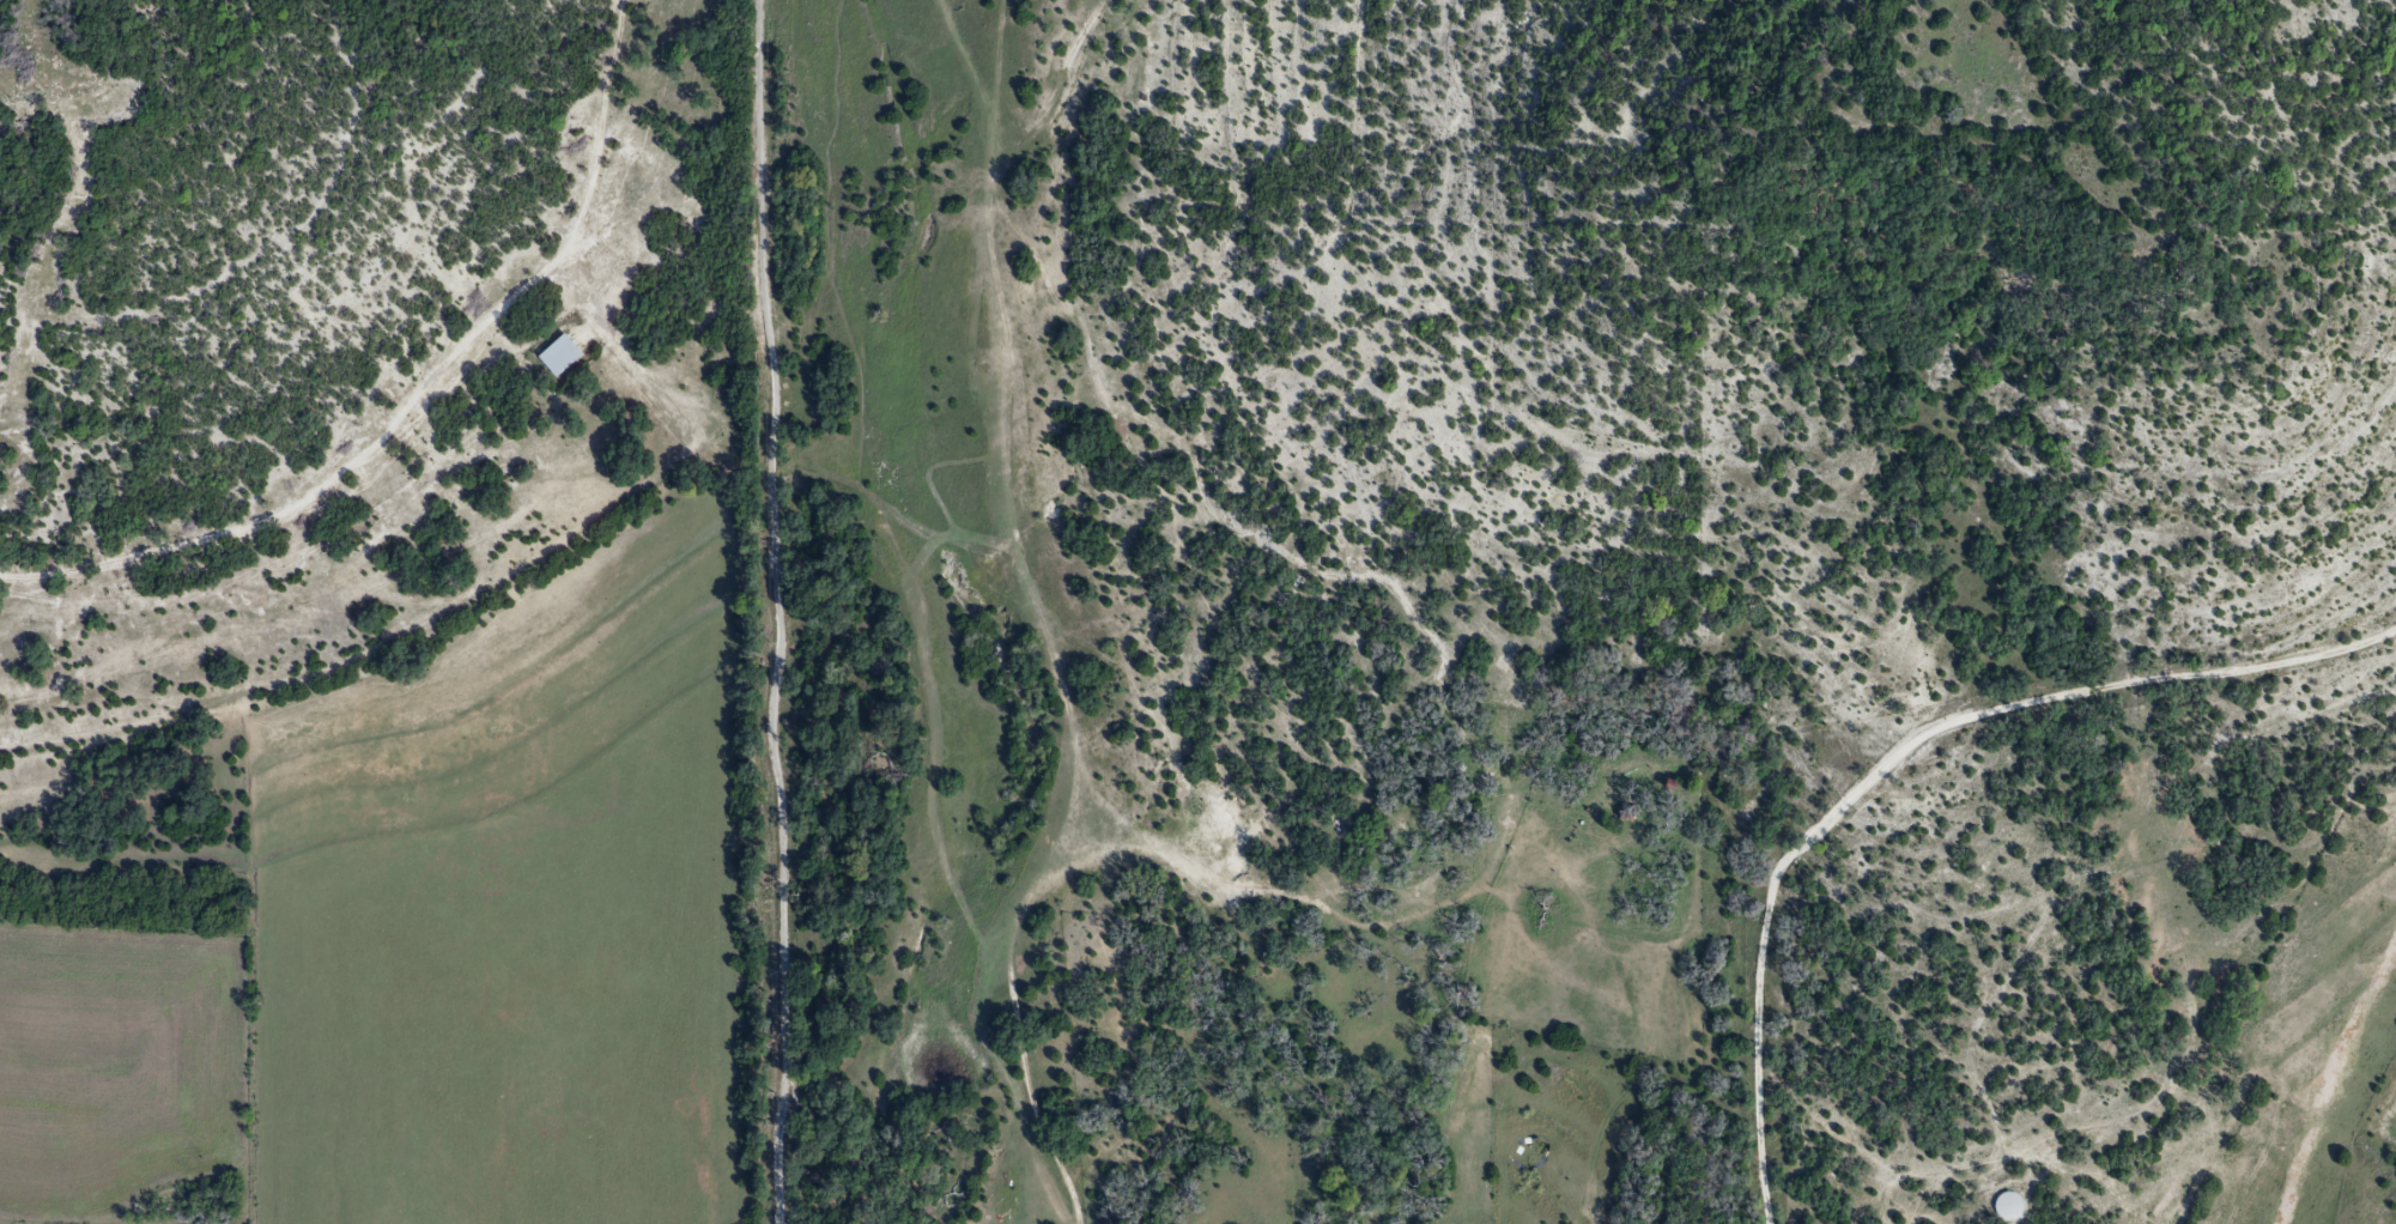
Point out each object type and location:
building: (560, 358)
road: (417, 405)
road: (778, 612)
road: (1901, 763)
building: (2008, 1207)

